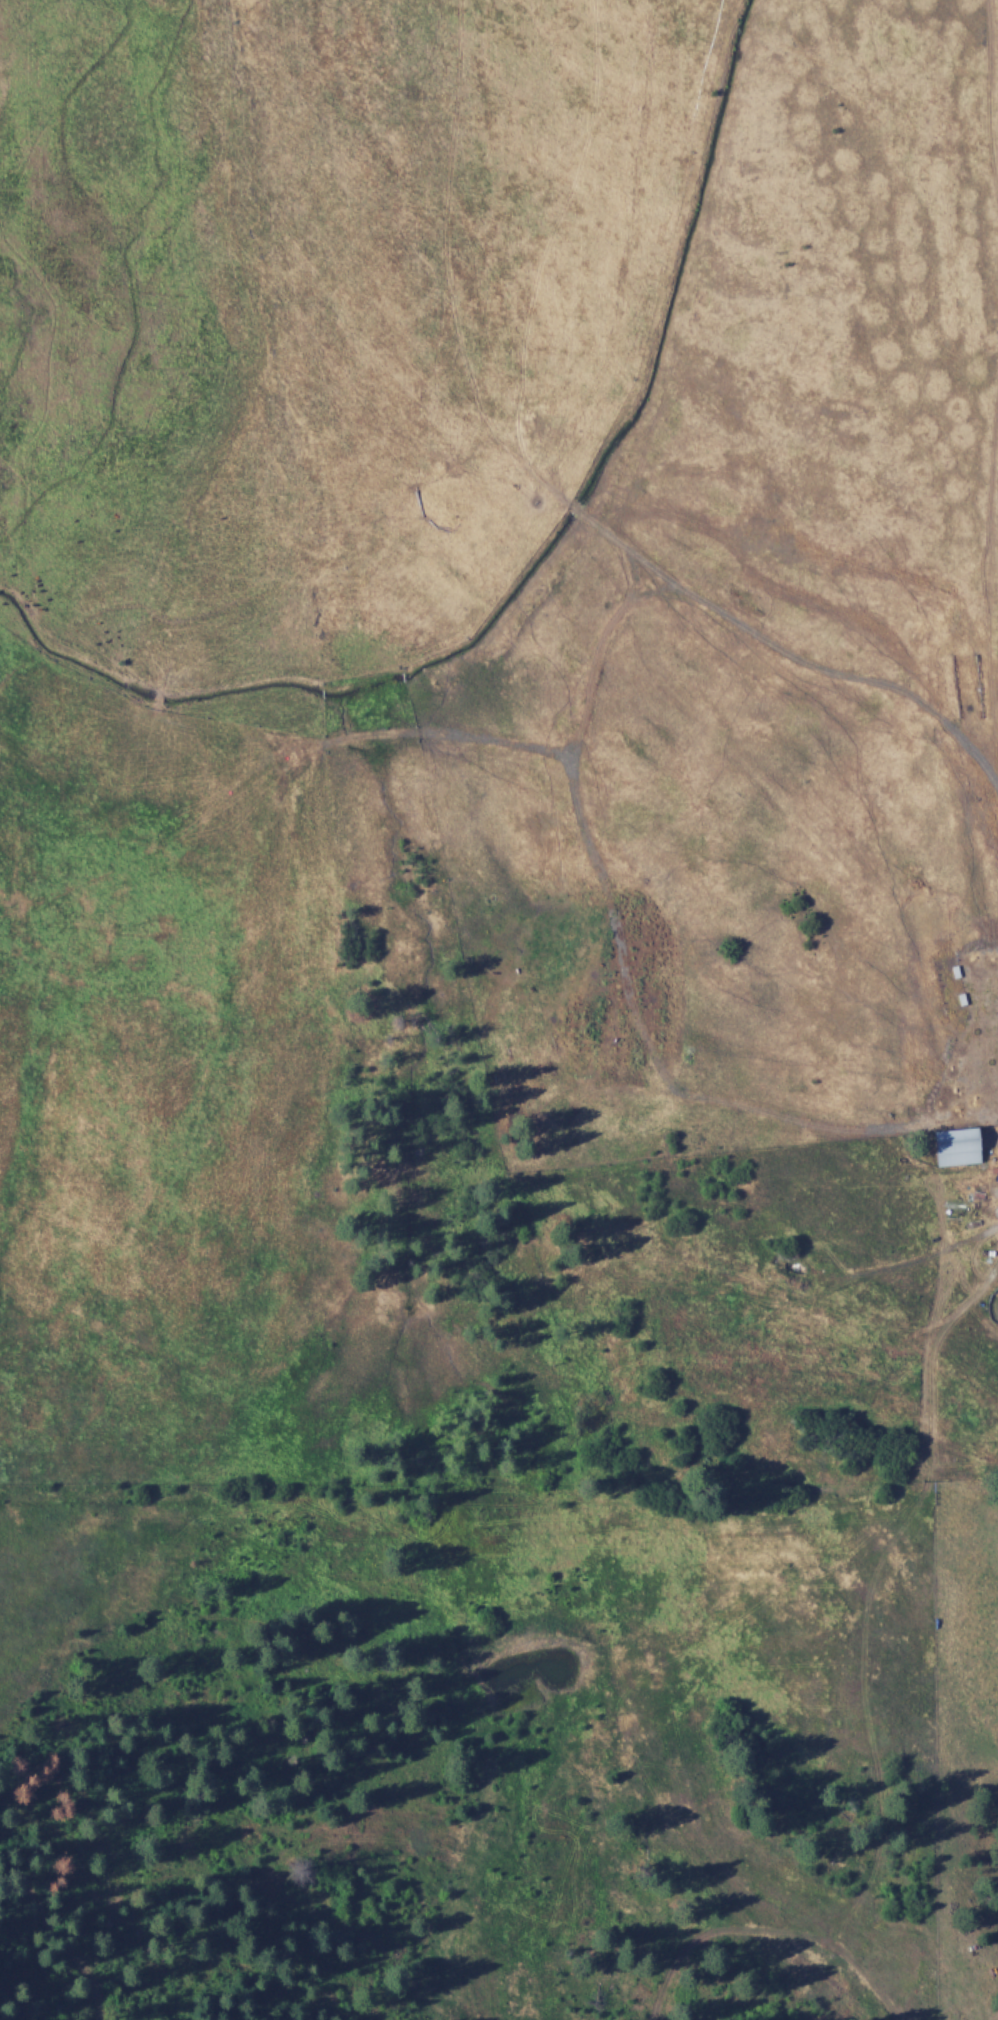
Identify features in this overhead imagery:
building: (964, 690)
building: (951, 1145)

